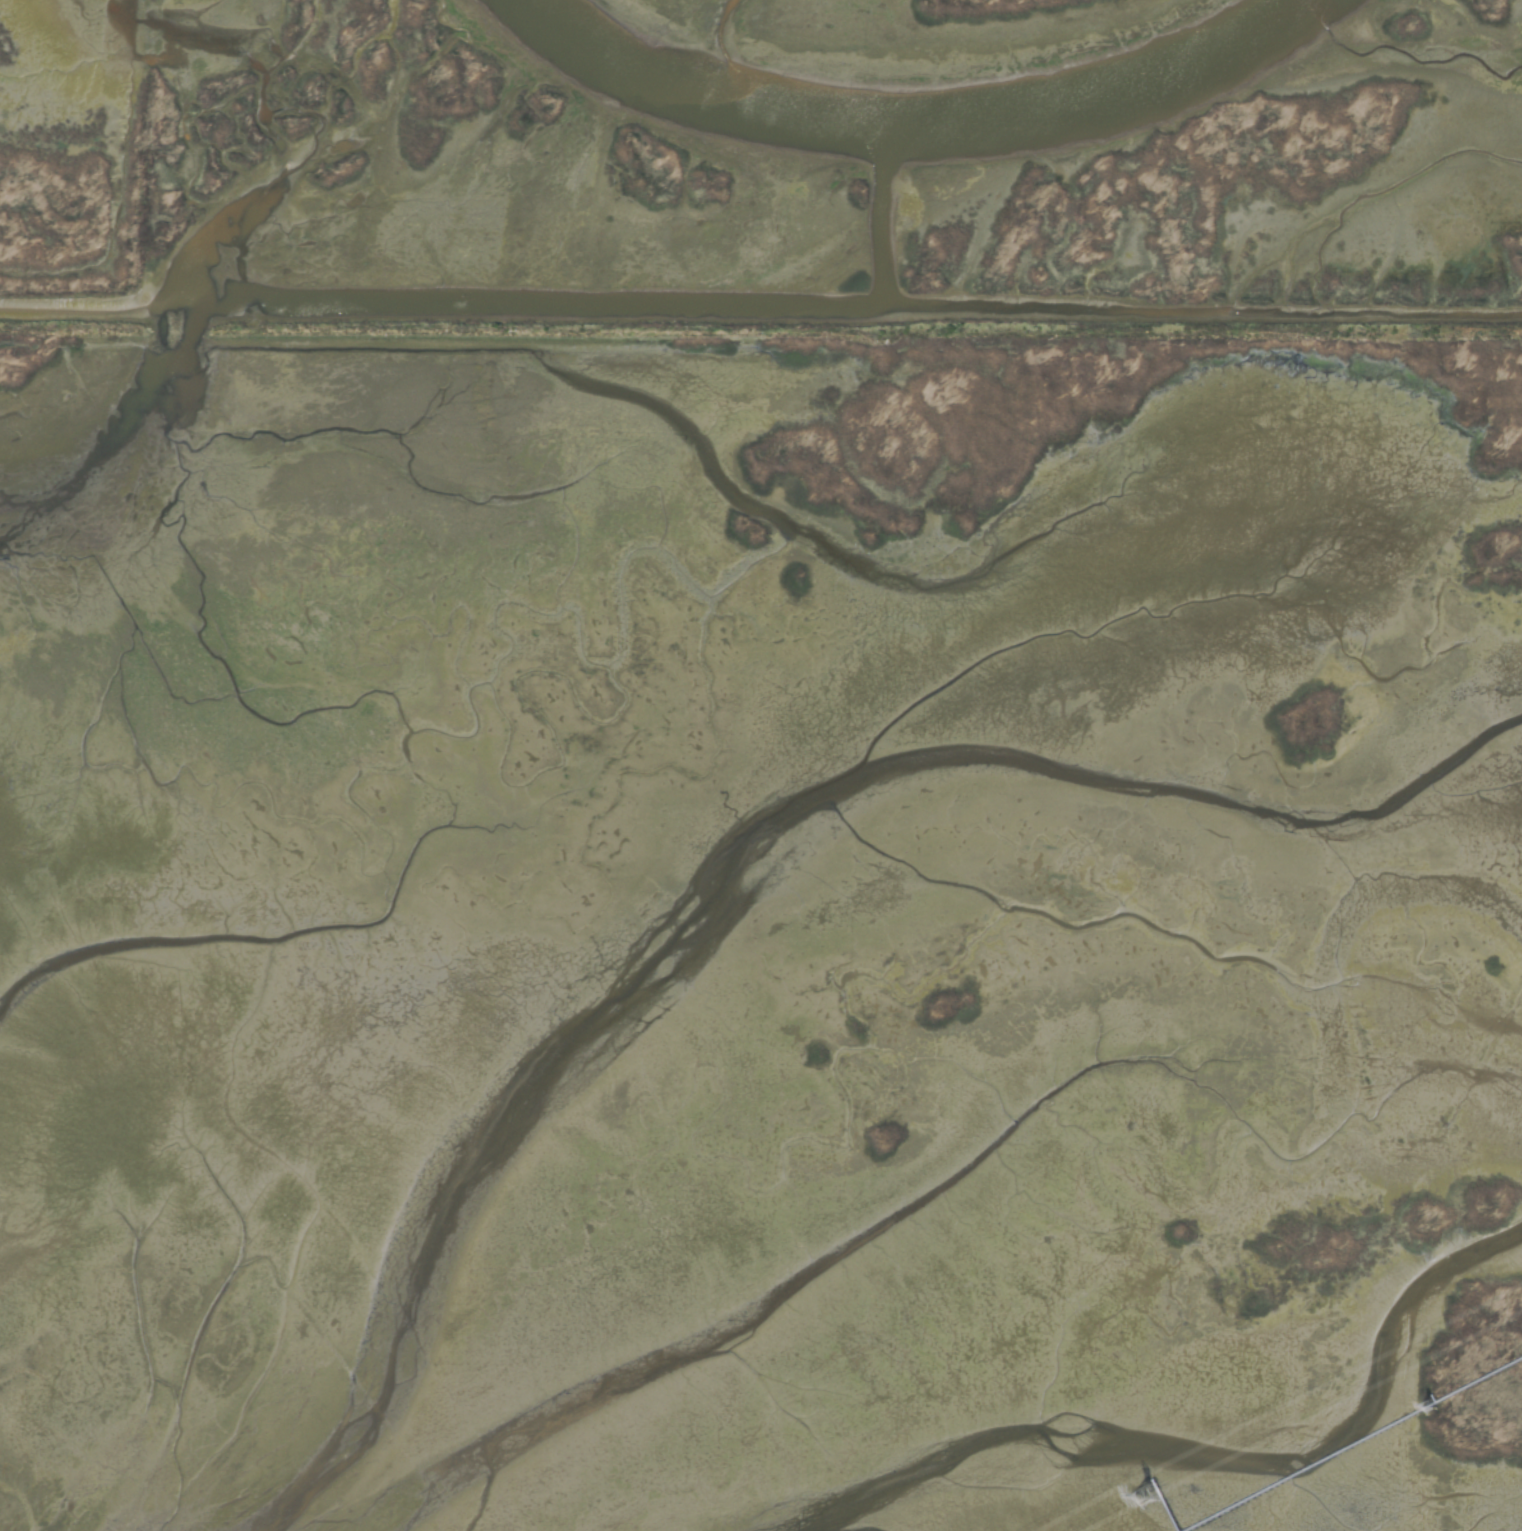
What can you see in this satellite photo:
power tower: (1427, 1406)
power tower: (1145, 1496)

